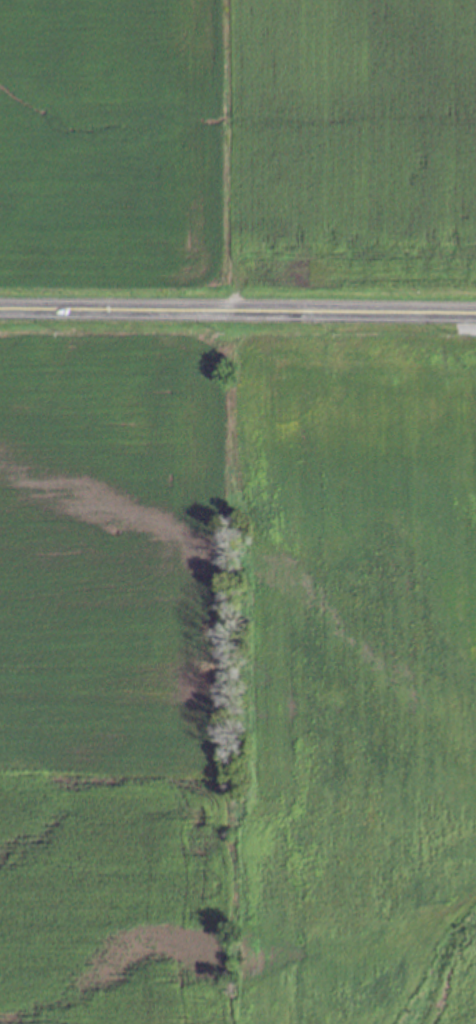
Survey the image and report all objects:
road: (238, 311)

